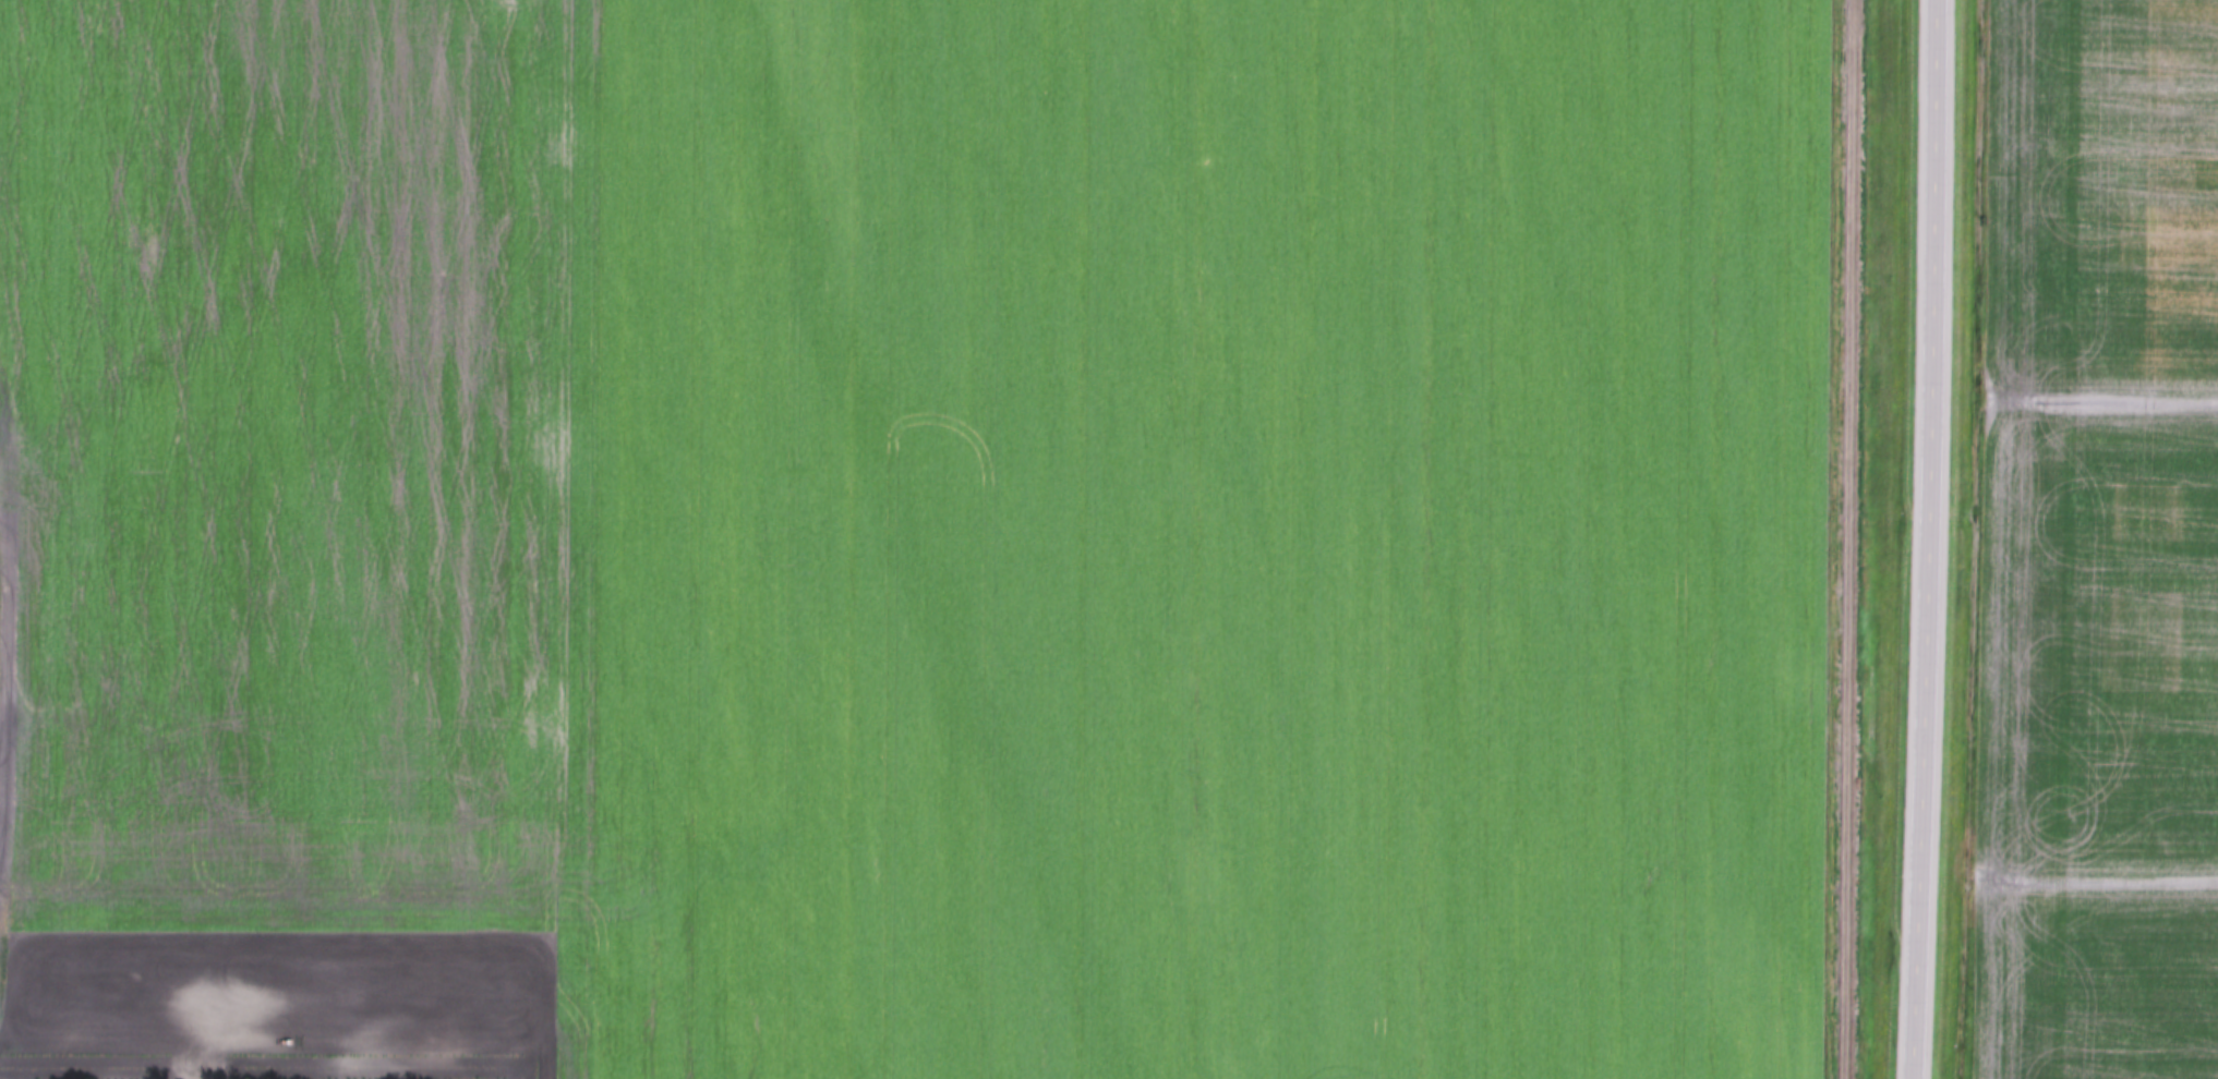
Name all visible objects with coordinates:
railway: (1845, 539)
road: (1927, 539)

